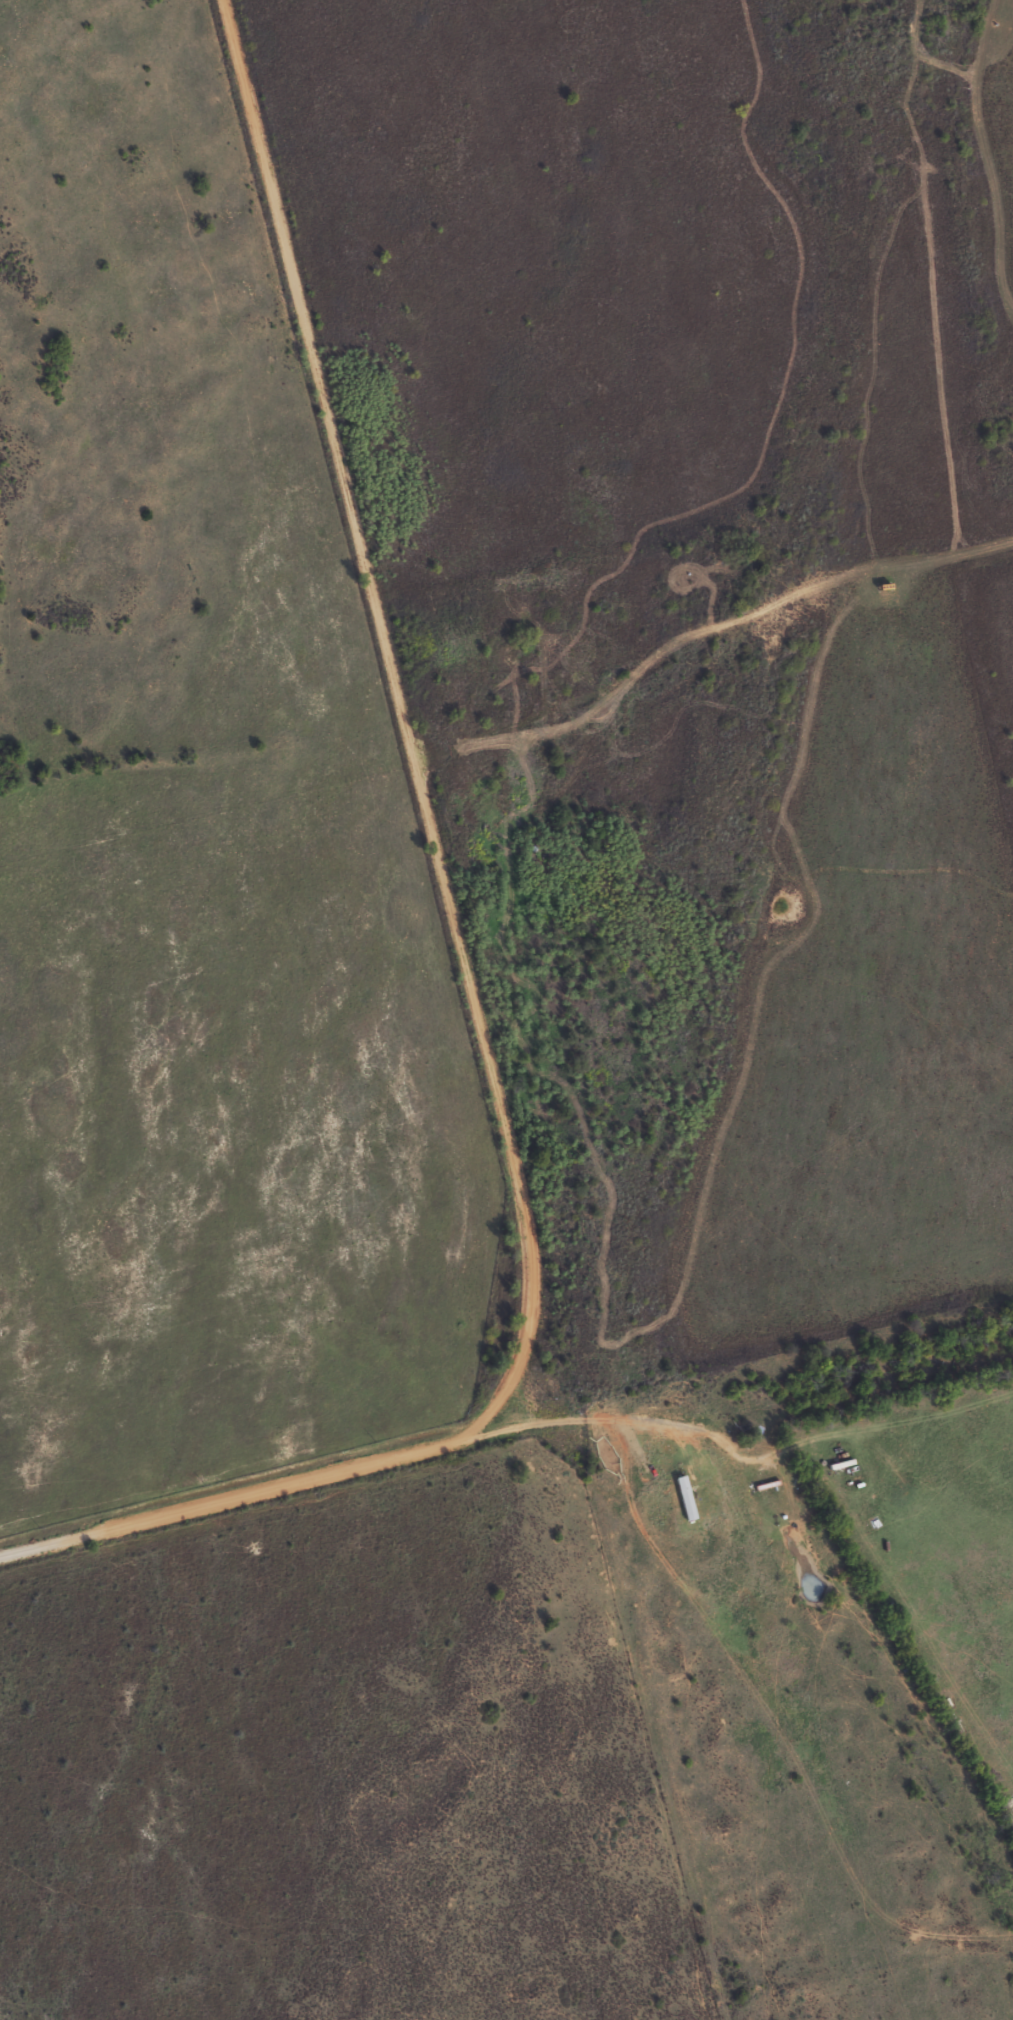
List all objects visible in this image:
road: (983, 160)
road: (700, 634)
road: (398, 723)
road: (609, 1424)
road: (236, 1496)
building: (679, 1496)

